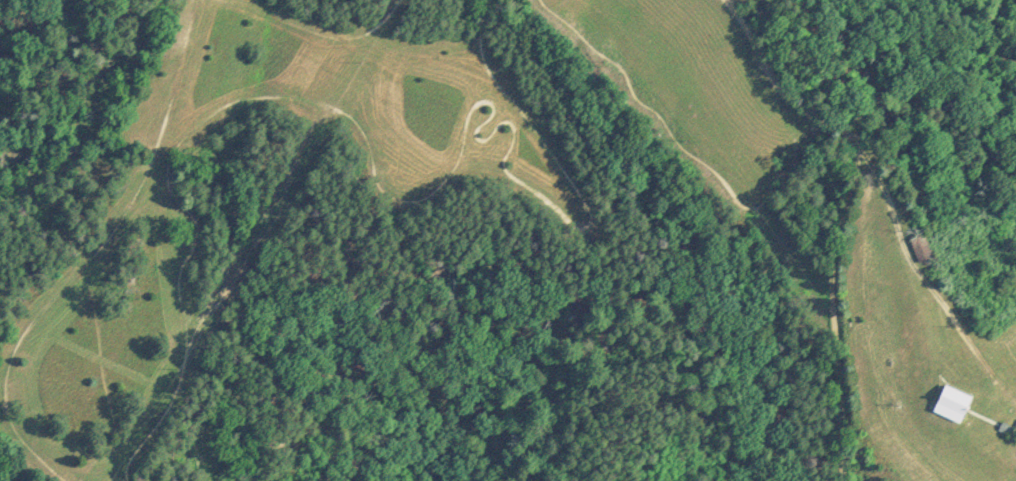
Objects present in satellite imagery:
building: (921, 246)
building: (953, 401)

